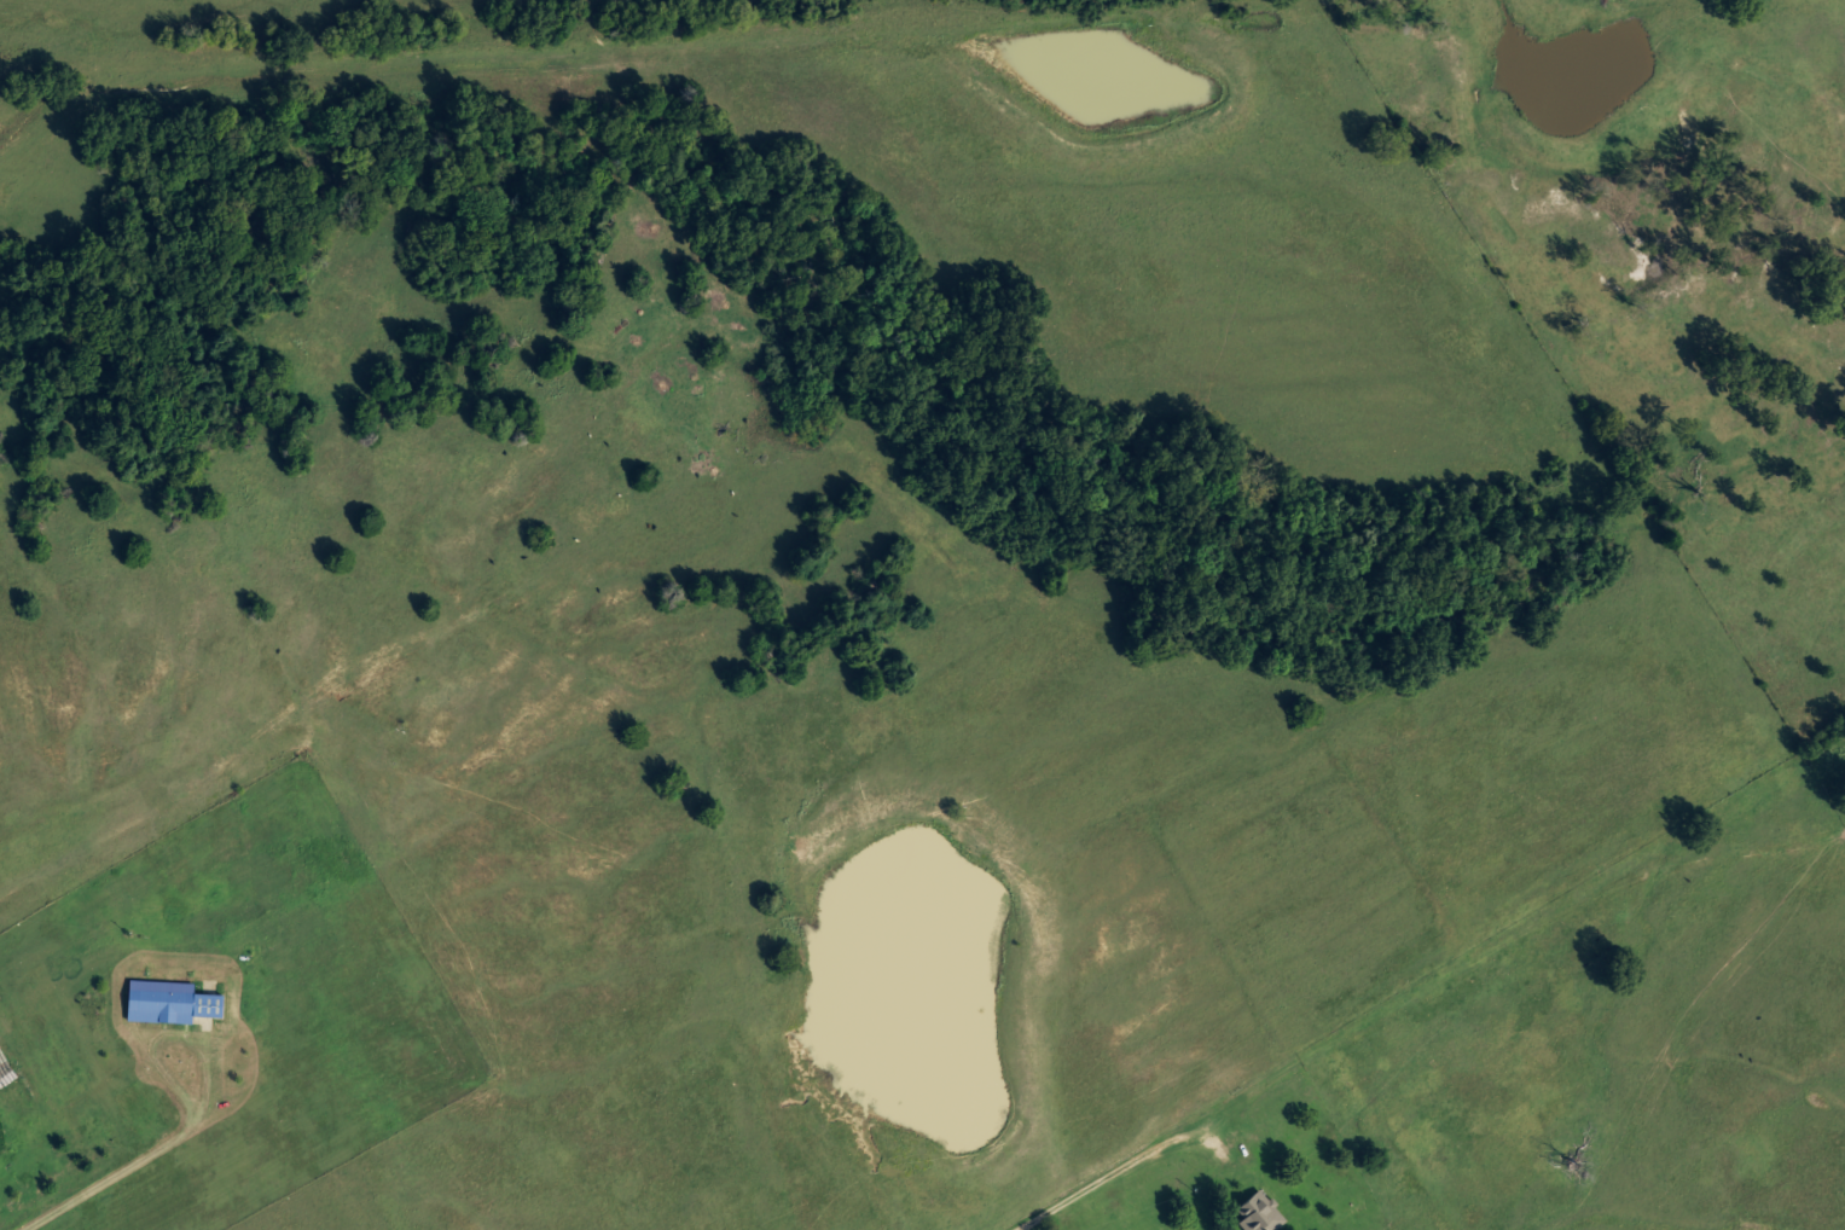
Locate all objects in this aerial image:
railway: (601, 34)
building: (162, 1000)
road: (1108, 1174)
building: (1251, 1212)

